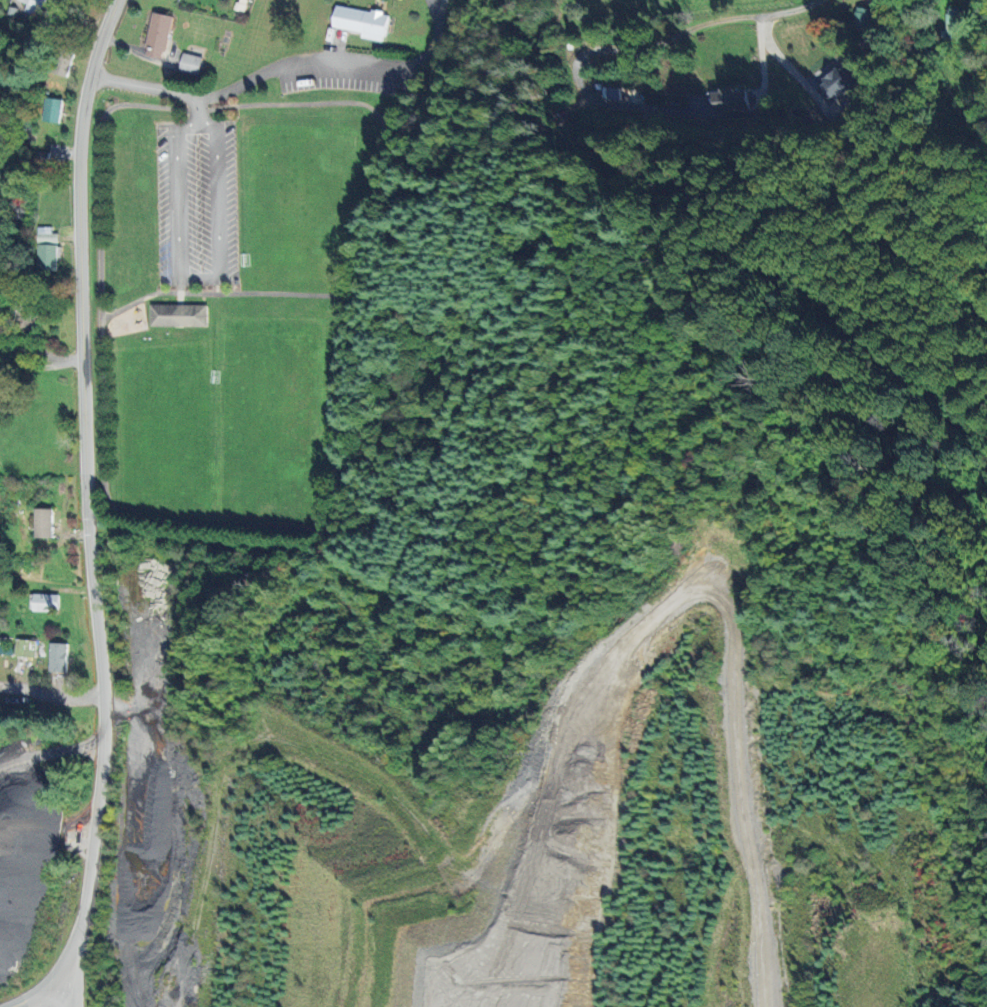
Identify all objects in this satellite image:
building: (34, 6)
road: (789, 10)
building: (360, 21)
building: (862, 21)
building: (952, 25)
building: (157, 35)
road: (433, 40)
building: (189, 63)
road: (782, 63)
building: (837, 82)
road: (245, 83)
road: (592, 99)
building: (728, 99)
building: (52, 109)
road: (201, 111)
building: (46, 235)
building: (46, 256)
road: (195, 281)
building: (177, 315)
building: (27, 325)
road: (45, 373)
road: (96, 501)
building: (42, 522)
building: (43, 602)
road: (730, 638)
building: (24, 648)
building: (57, 657)
road: (52, 695)
road: (62, 821)
quarry: (464, 917)
road: (48, 997)

